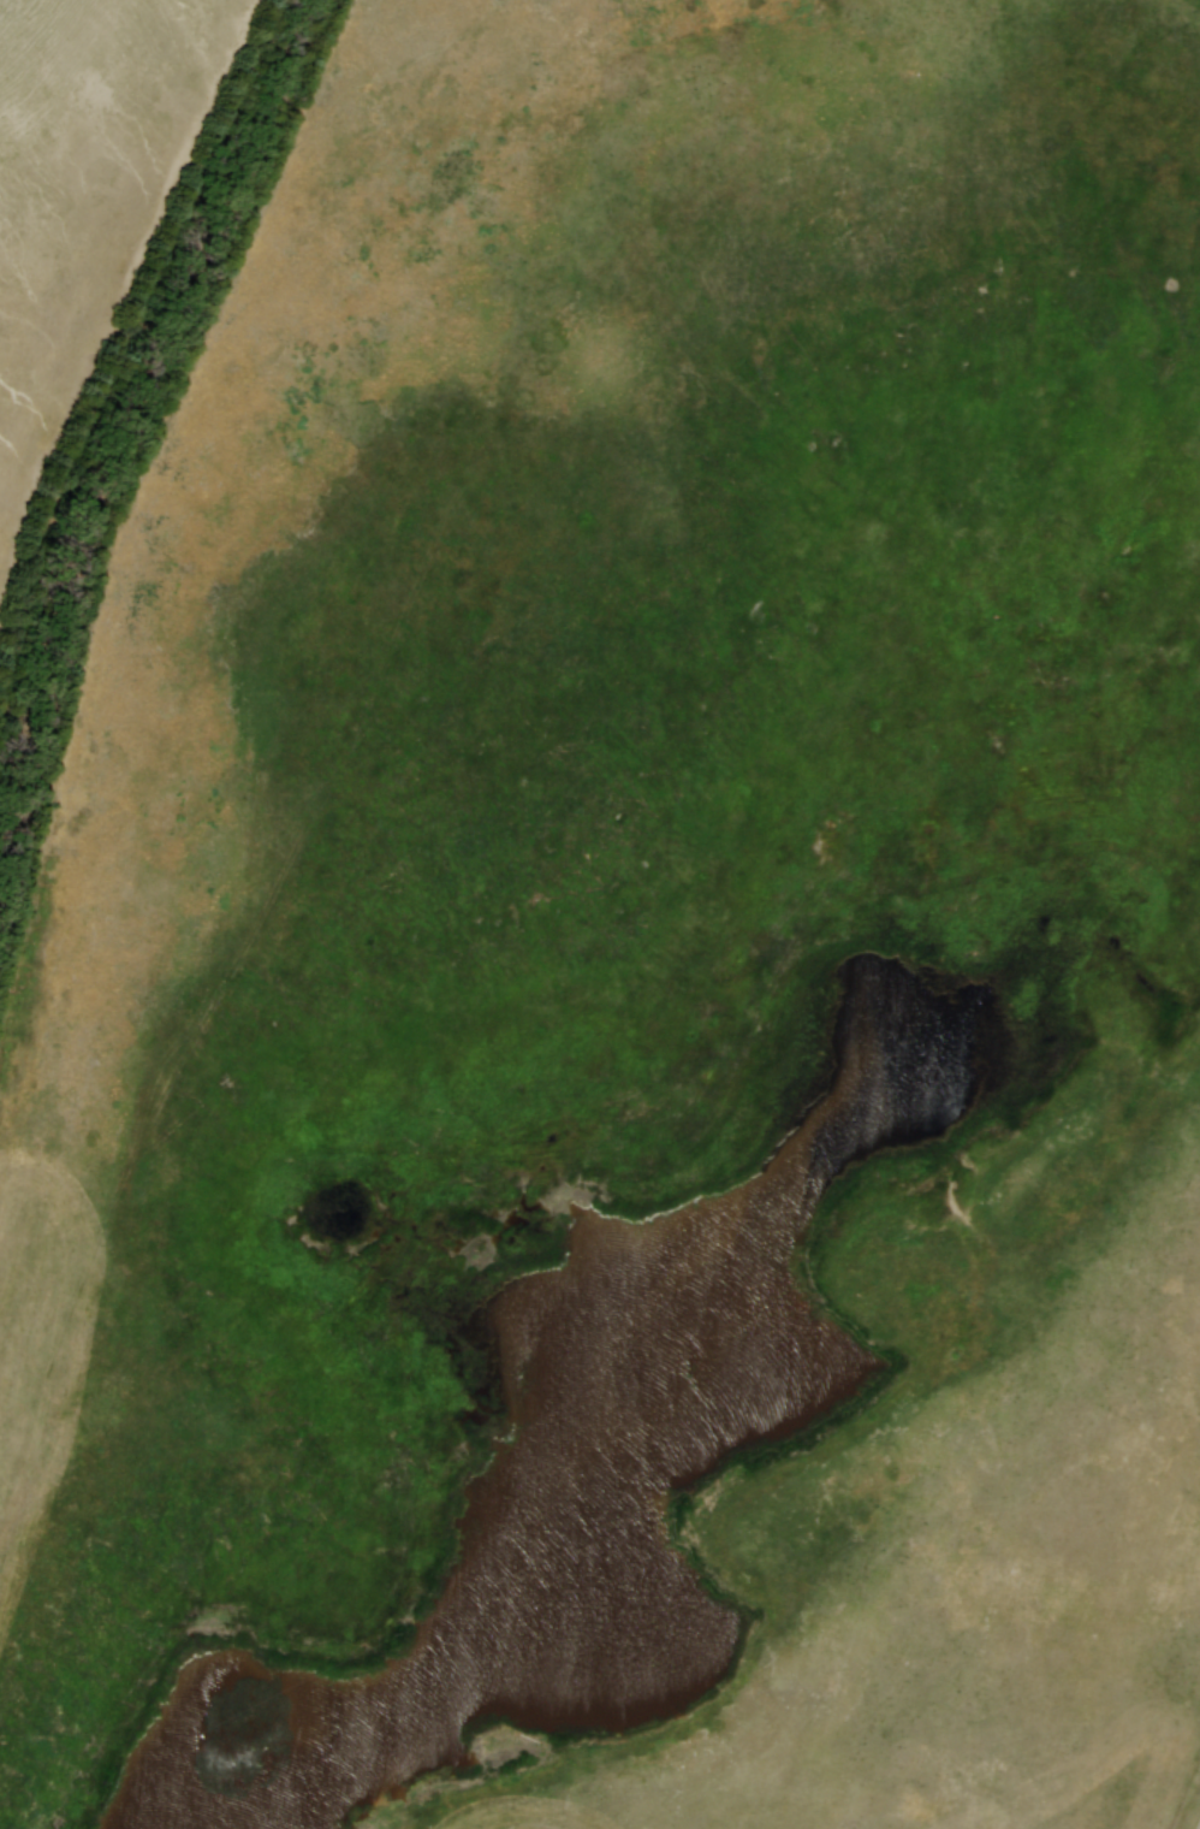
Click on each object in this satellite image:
road: (1199, 1828)

